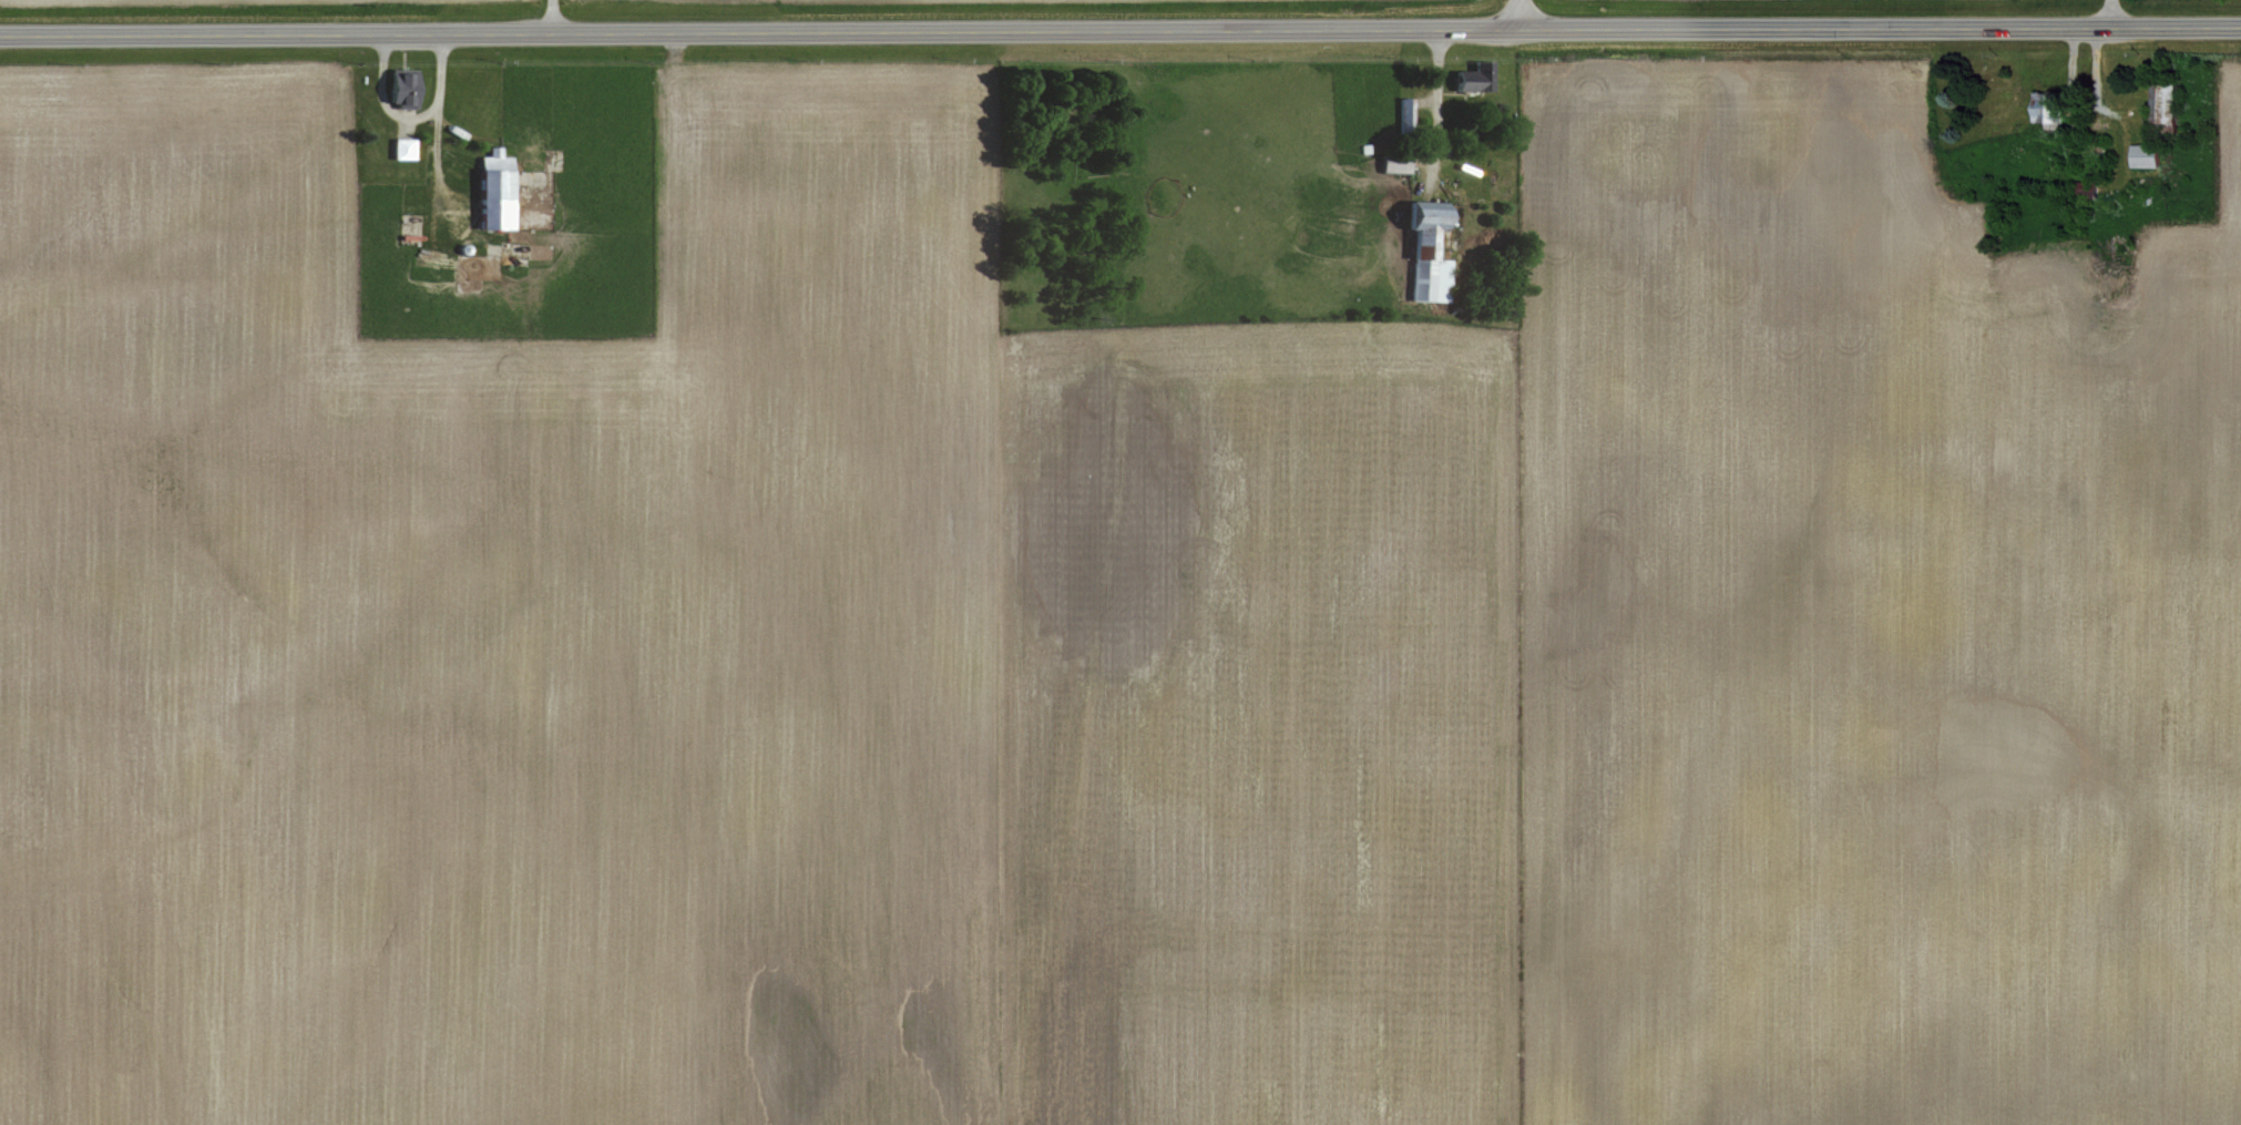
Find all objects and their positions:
road: (2105, 11)
road: (1514, 14)
road: (546, 17)
road: (1120, 31)
building: (1476, 75)
building: (391, 84)
building: (2160, 100)
building: (2043, 106)
road: (433, 144)
building: (395, 145)
building: (2140, 153)
building: (1389, 161)
road: (1413, 186)
building: (489, 188)
building: (1421, 248)

